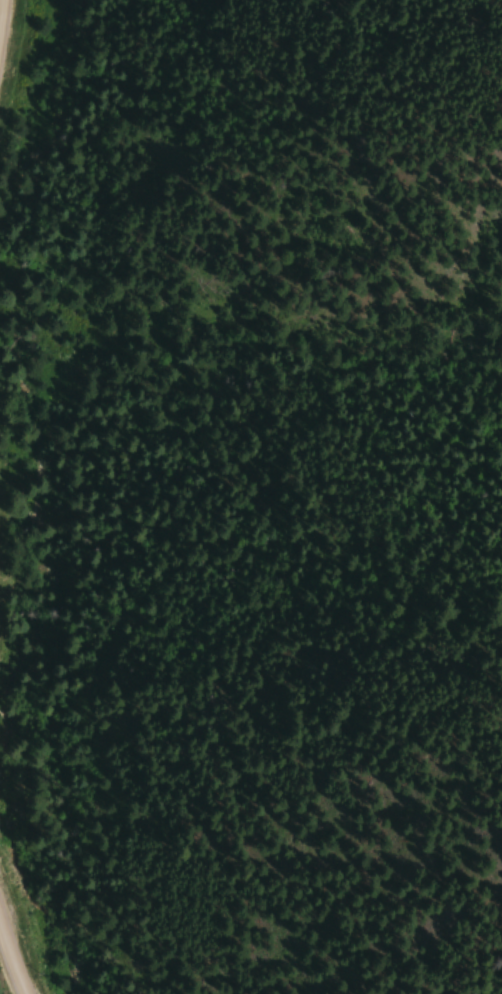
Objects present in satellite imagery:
road: (12, 958)

